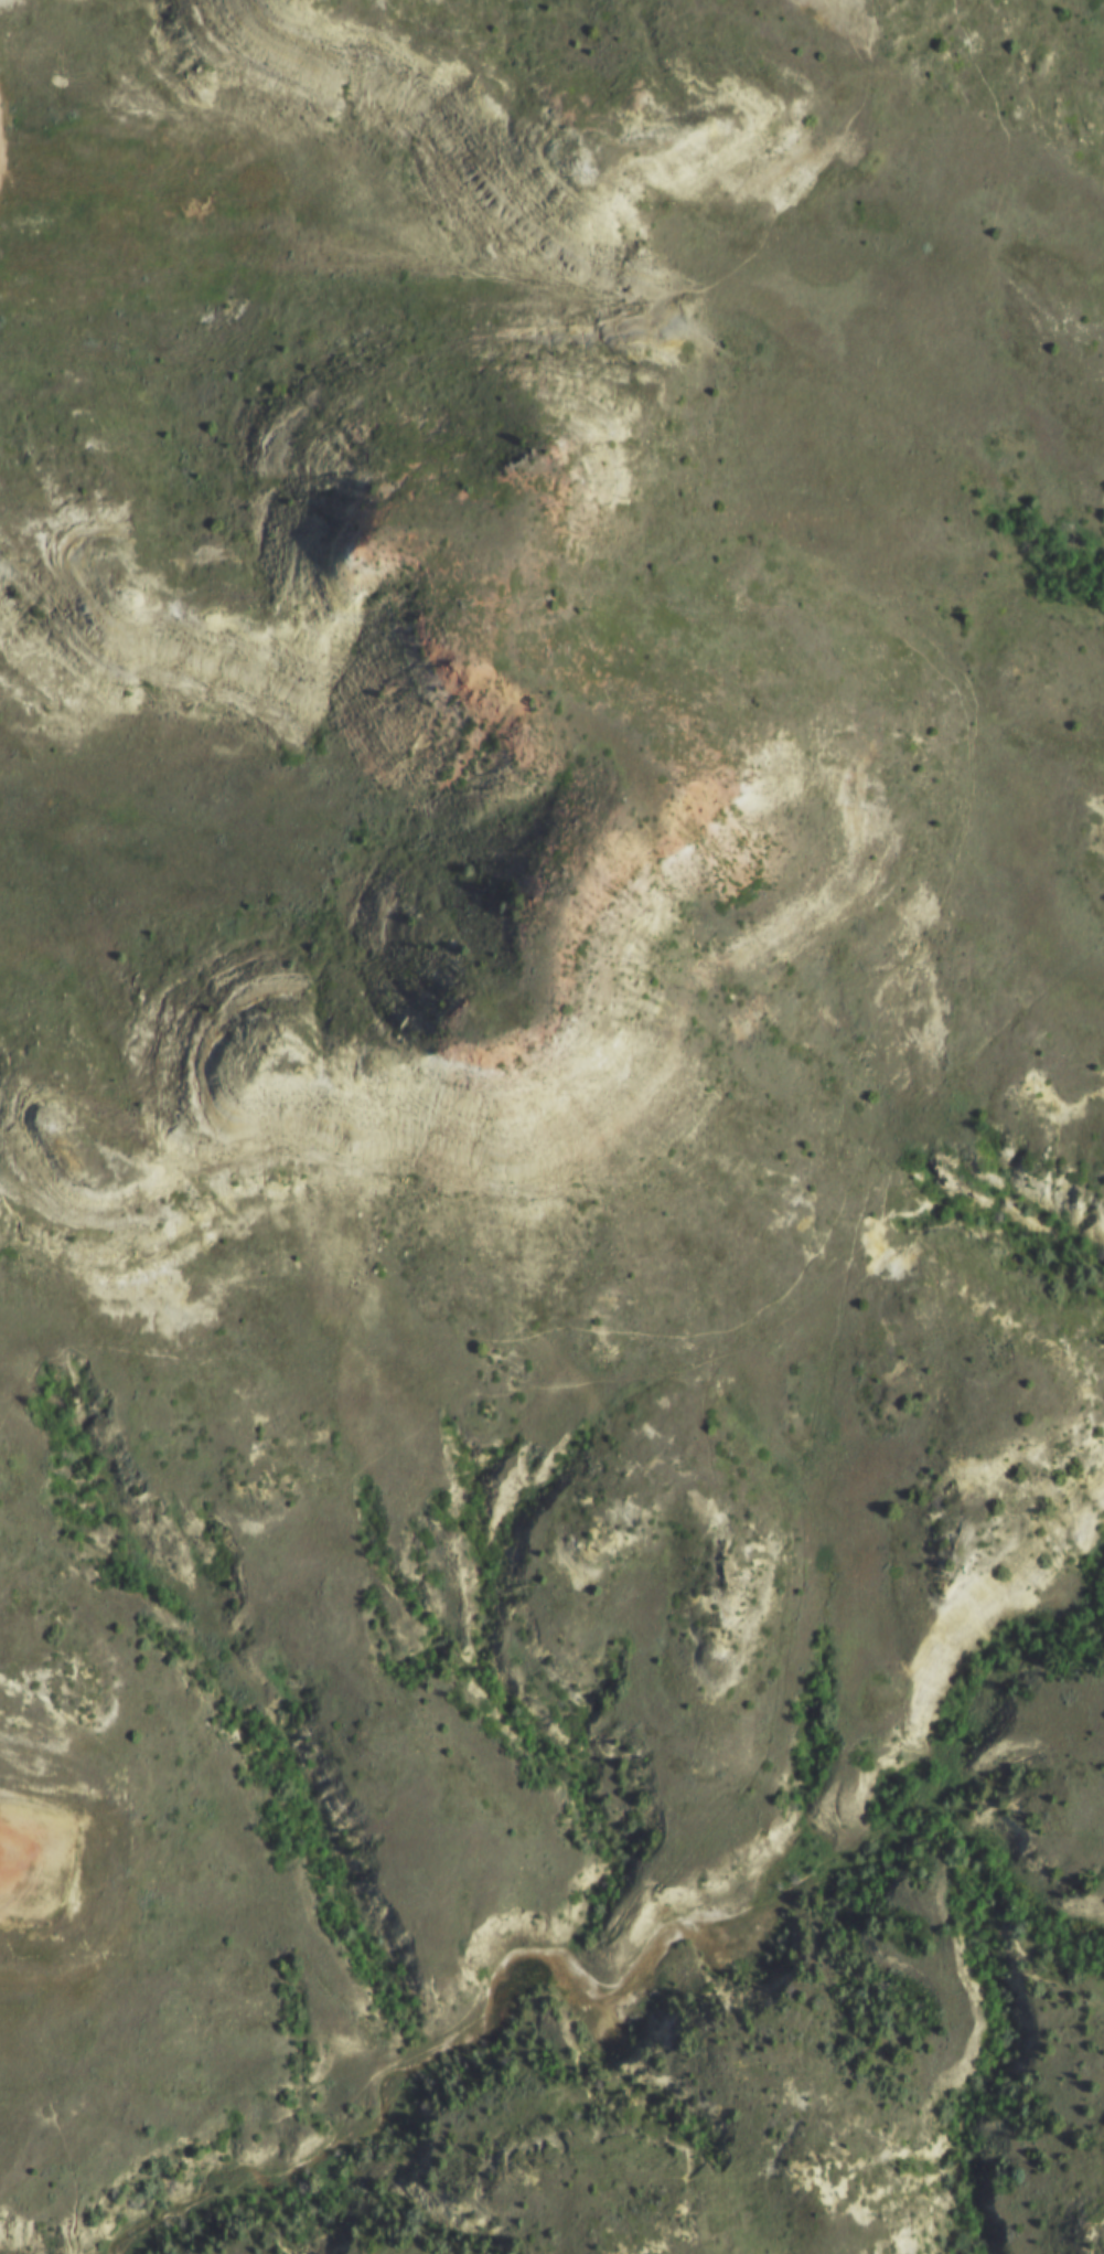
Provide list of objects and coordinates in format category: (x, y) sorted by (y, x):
road: (13, 1844)

